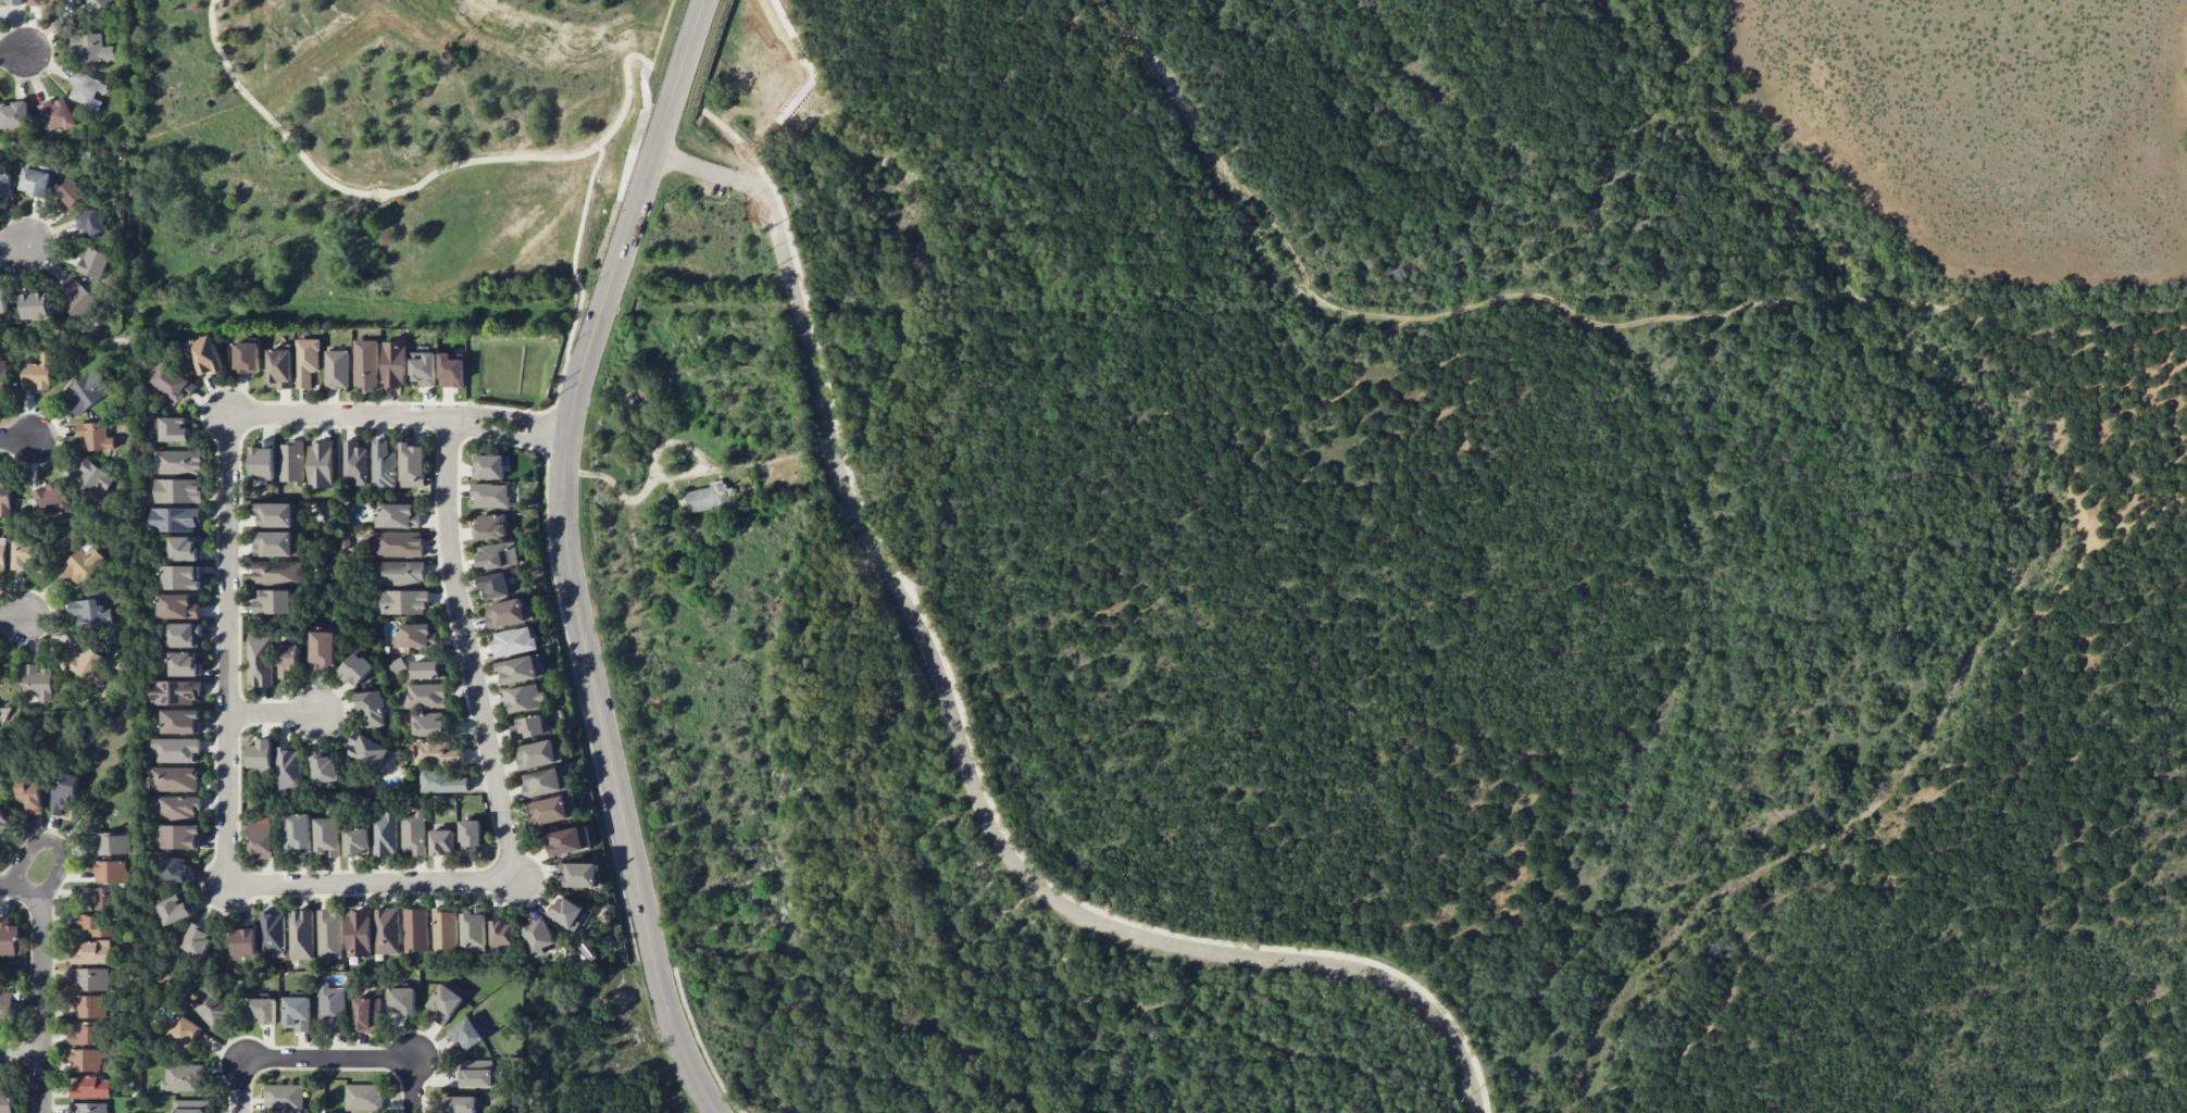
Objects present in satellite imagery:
building: (11, 2)
building: (35, 2)
building: (95, 4)
building: (91, 47)
road: (13, 53)
road: (675, 87)
building: (85, 89)
building: (14, 114)
building: (57, 114)
road: (786, 123)
road: (1737, 157)
park: (384, 158)
road: (1224, 173)
building: (35, 182)
road: (415, 183)
building: (5, 184)
building: (70, 195)
road: (775, 201)
building: (91, 222)
road: (14, 245)
building: (95, 262)
road: (574, 264)
building: (76, 298)
building: (2, 299)
building: (35, 305)
road: (1367, 310)
road: (1373, 333)
building: (205, 355)
building: (246, 358)
building: (307, 361)
building: (365, 364)
building: (395, 364)
building: (279, 367)
building: (423, 368)
building: (337, 370)
building: (451, 371)
building: (37, 374)
building: (2, 378)
building: (173, 383)
building: (87, 392)
building: (641, 409)
road: (571, 412)
road: (508, 417)
building: (174, 429)
building: (95, 436)
road: (505, 436)
road: (16, 441)
building: (178, 462)
building: (262, 463)
building: (291, 463)
building: (320, 463)
building: (353, 463)
building: (412, 465)
building: (383, 467)
building: (490, 467)
building: (90, 478)
building: (177, 490)
building: (489, 496)
building: (708, 497)
building: (4, 498)
building: (50, 500)
building: (274, 514)
building: (398, 515)
building: (176, 518)
building: (490, 527)
building: (275, 543)
building: (396, 546)
building: (184, 548)
building: (22, 554)
building: (498, 554)
building: (2, 558)
building: (83, 564)
building: (277, 573)
building: (401, 573)
building: (182, 577)
building: (493, 585)
building: (273, 601)
building: (403, 602)
park: (2166, 603)
building: (179, 605)
building: (90, 613)
building: (507, 614)
road: (11, 617)
building: (184, 635)
building: (413, 635)
building: (513, 641)
building: (323, 650)
road: (932, 655)
building: (288, 660)
building: (260, 661)
building: (87, 662)
building: (185, 664)
building: (398, 666)
building: (355, 668)
building: (521, 668)
building: (428, 670)
building: (37, 683)
building: (175, 692)
building: (425, 696)
building: (523, 698)
building: (371, 706)
road: (272, 711)
building: (179, 721)
building: (428, 724)
building: (528, 727)
road: (971, 740)
building: (176, 749)
building: (367, 751)
building: (261, 753)
building: (437, 753)
building: (537, 754)
building: (288, 767)
building: (325, 770)
building: (174, 779)
building: (443, 781)
building: (542, 783)
building: (30, 795)
building: (63, 796)
building: (176, 806)
building: (553, 810)
building: (3, 822)
building: (299, 831)
building: (385, 833)
building: (413, 833)
building: (180, 836)
building: (327, 836)
building: (470, 836)
building: (261, 840)
building: (567, 840)
building: (357, 841)
building: (441, 841)
building: (111, 845)
road: (28, 856)
building: (173, 868)
building: (110, 872)
road: (58, 875)
building: (578, 875)
road: (259, 886)
road: (13, 888)
building: (99, 898)
building: (173, 910)
building: (566, 913)
building: (443, 928)
building: (415, 929)
building: (473, 929)
building: (386, 930)
building: (272, 931)
building: (501, 933)
building: (329, 934)
building: (358, 934)
building: (300, 935)
road: (964, 936)
building: (538, 937)
building: (9, 939)
building: (197, 940)
building: (243, 942)
building: (588, 951)
building: (91, 952)
building: (89, 979)
road: (659, 980)
road: (42, 1000)
building: (401, 1001)
park: (1035, 1001)
road: (1315, 1002)
building: (445, 1003)
road: (1153, 1003)
building: (5, 1006)
building: (90, 1006)
building: (211, 1006)
road: (772, 1006)
building: (330, 1008)
building: (262, 1010)
building: (297, 1013)
building: (366, 1014)
road: (1445, 1029)
building: (184, 1030)
building: (86, 1034)
building: (465, 1034)
road: (960, 1042)
road: (703, 1045)
road: (1403, 1048)
road: (22, 1054)
road: (352, 1056)
building: (86, 1060)
road: (890, 1064)
building: (475, 1073)
building: (183, 1078)
road: (1290, 1079)
road: (239, 1085)
building: (91, 1088)
building: (284, 1097)
building: (363, 1097)
building: (5, 1098)
building: (461, 1104)
building: (189, 1106)
road: (936, 1106)
building: (89, 1108)

